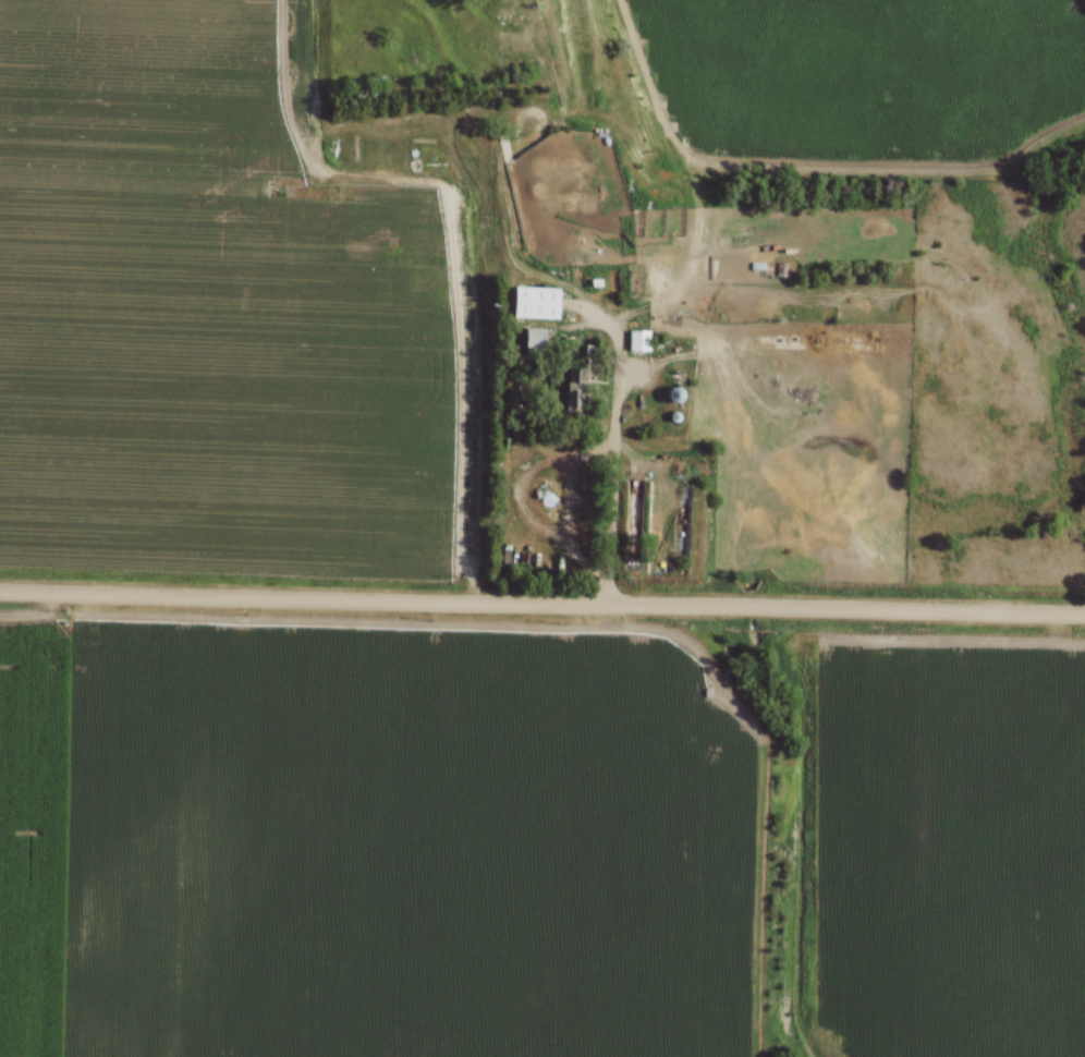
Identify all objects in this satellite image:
building: (533, 303)
crop: (222, 309)
building: (532, 337)
building: (636, 340)
building: (574, 390)
silo: (672, 396)
building: (672, 397)
silo: (672, 418)
road: (614, 447)
road: (541, 605)
crop: (370, 843)
crop: (953, 849)

